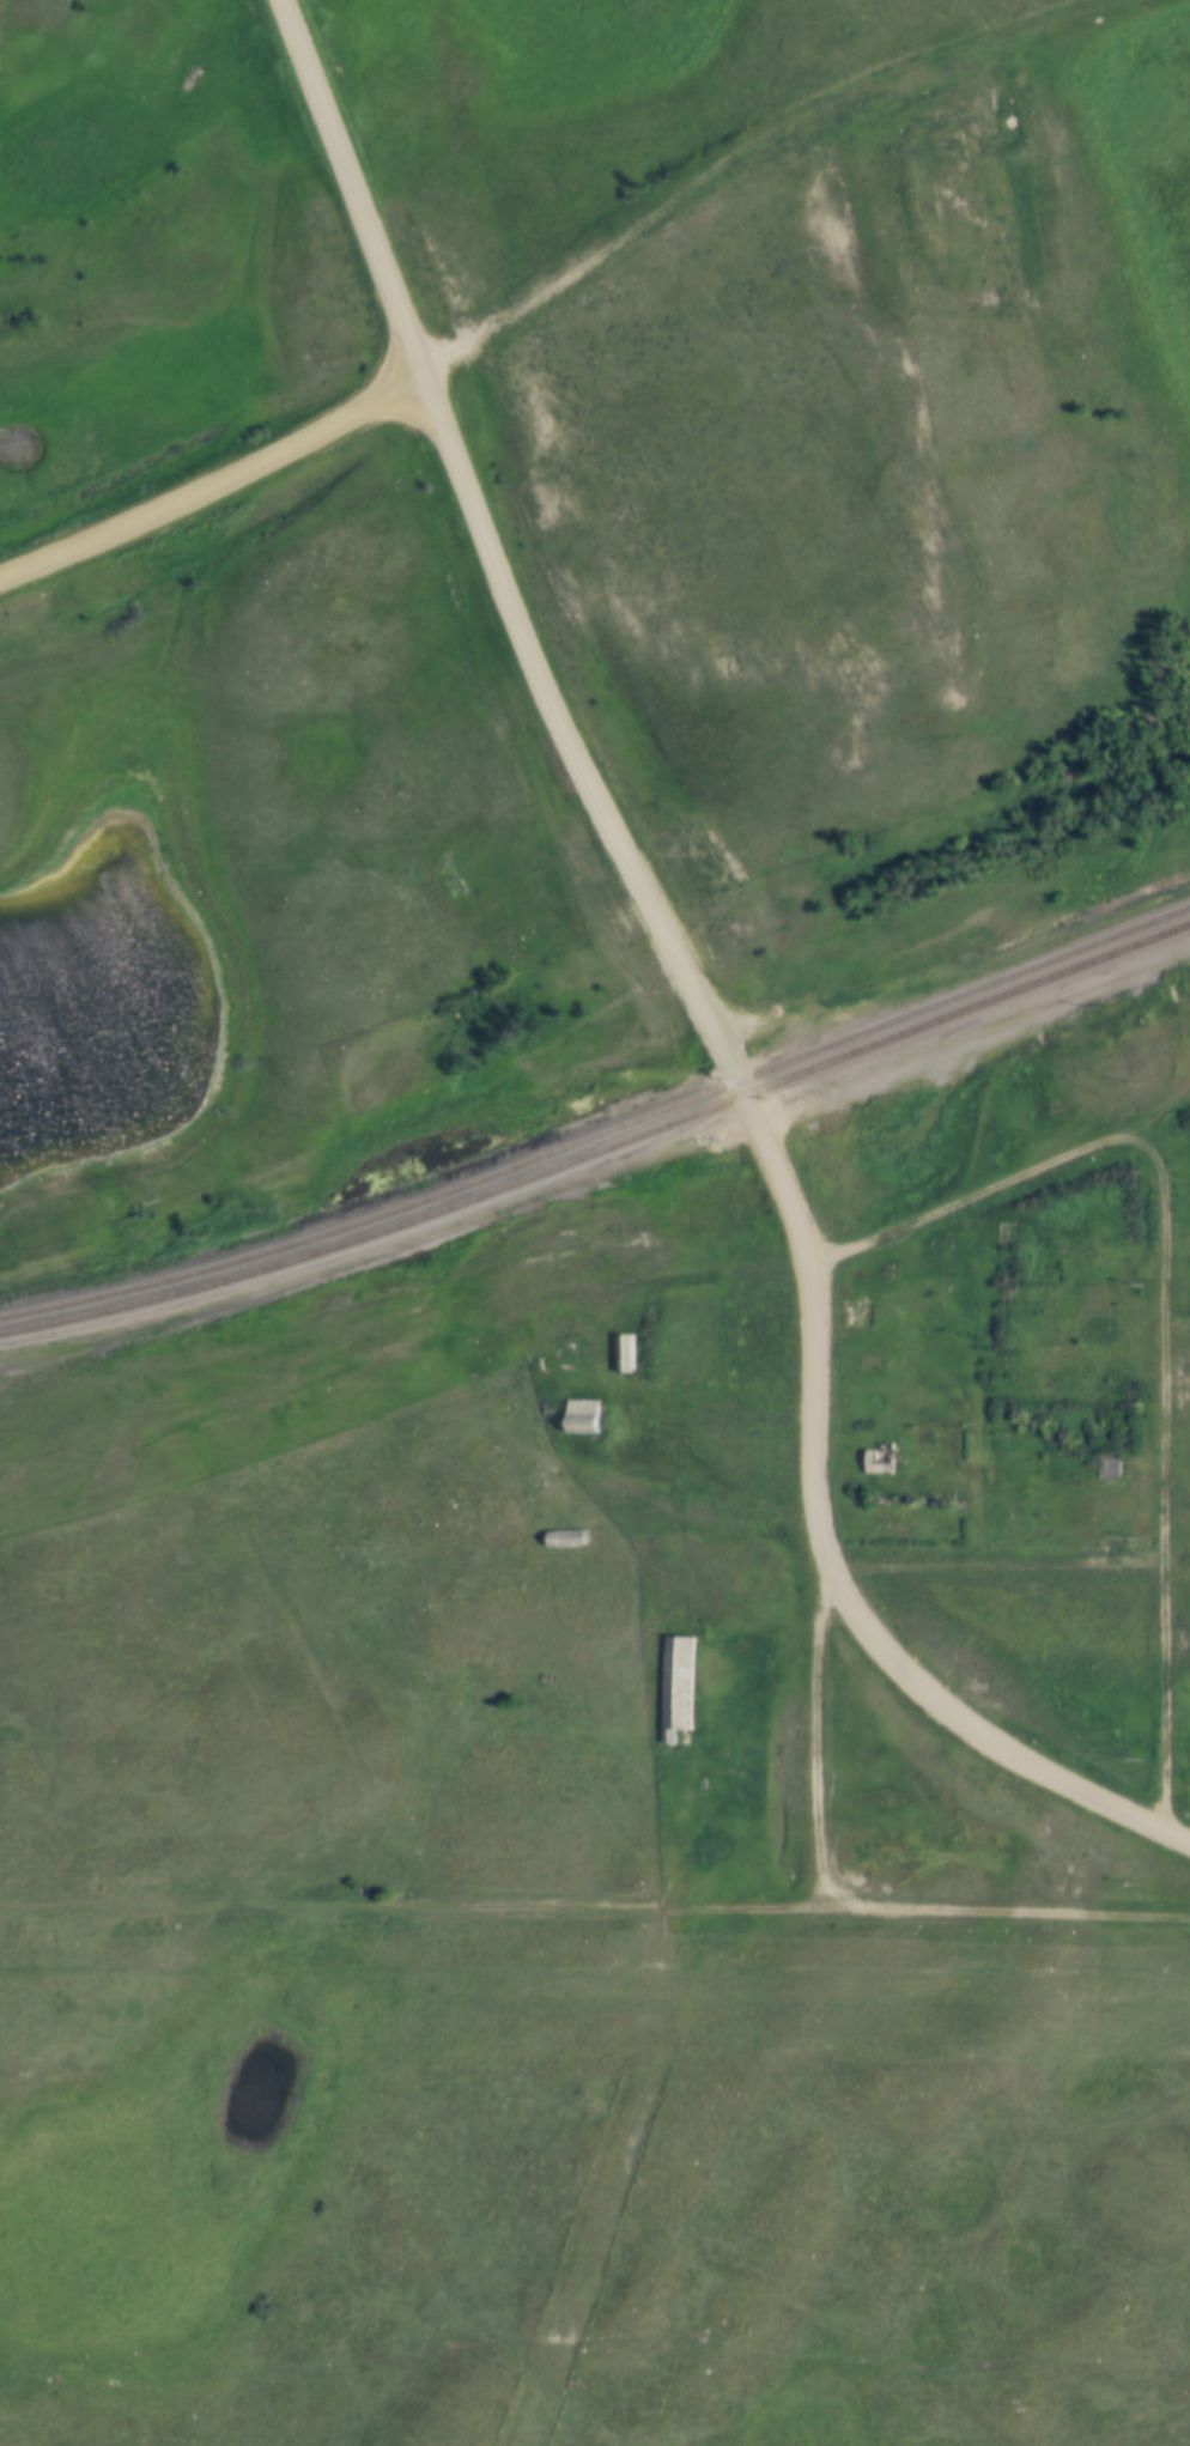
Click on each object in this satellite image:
road: (346, 190)
road: (210, 487)
railway: (1022, 1013)
railway: (601, 1131)
railway: (601, 1147)
road: (775, 1159)
road: (1158, 1306)
building: (1104, 1327)
building: (629, 1352)
building: (587, 1415)
building: (882, 1459)
building: (1111, 1463)
building: (571, 1538)
building: (678, 1673)
road: (815, 1742)
road: (1178, 1839)
building: (880, 1846)

